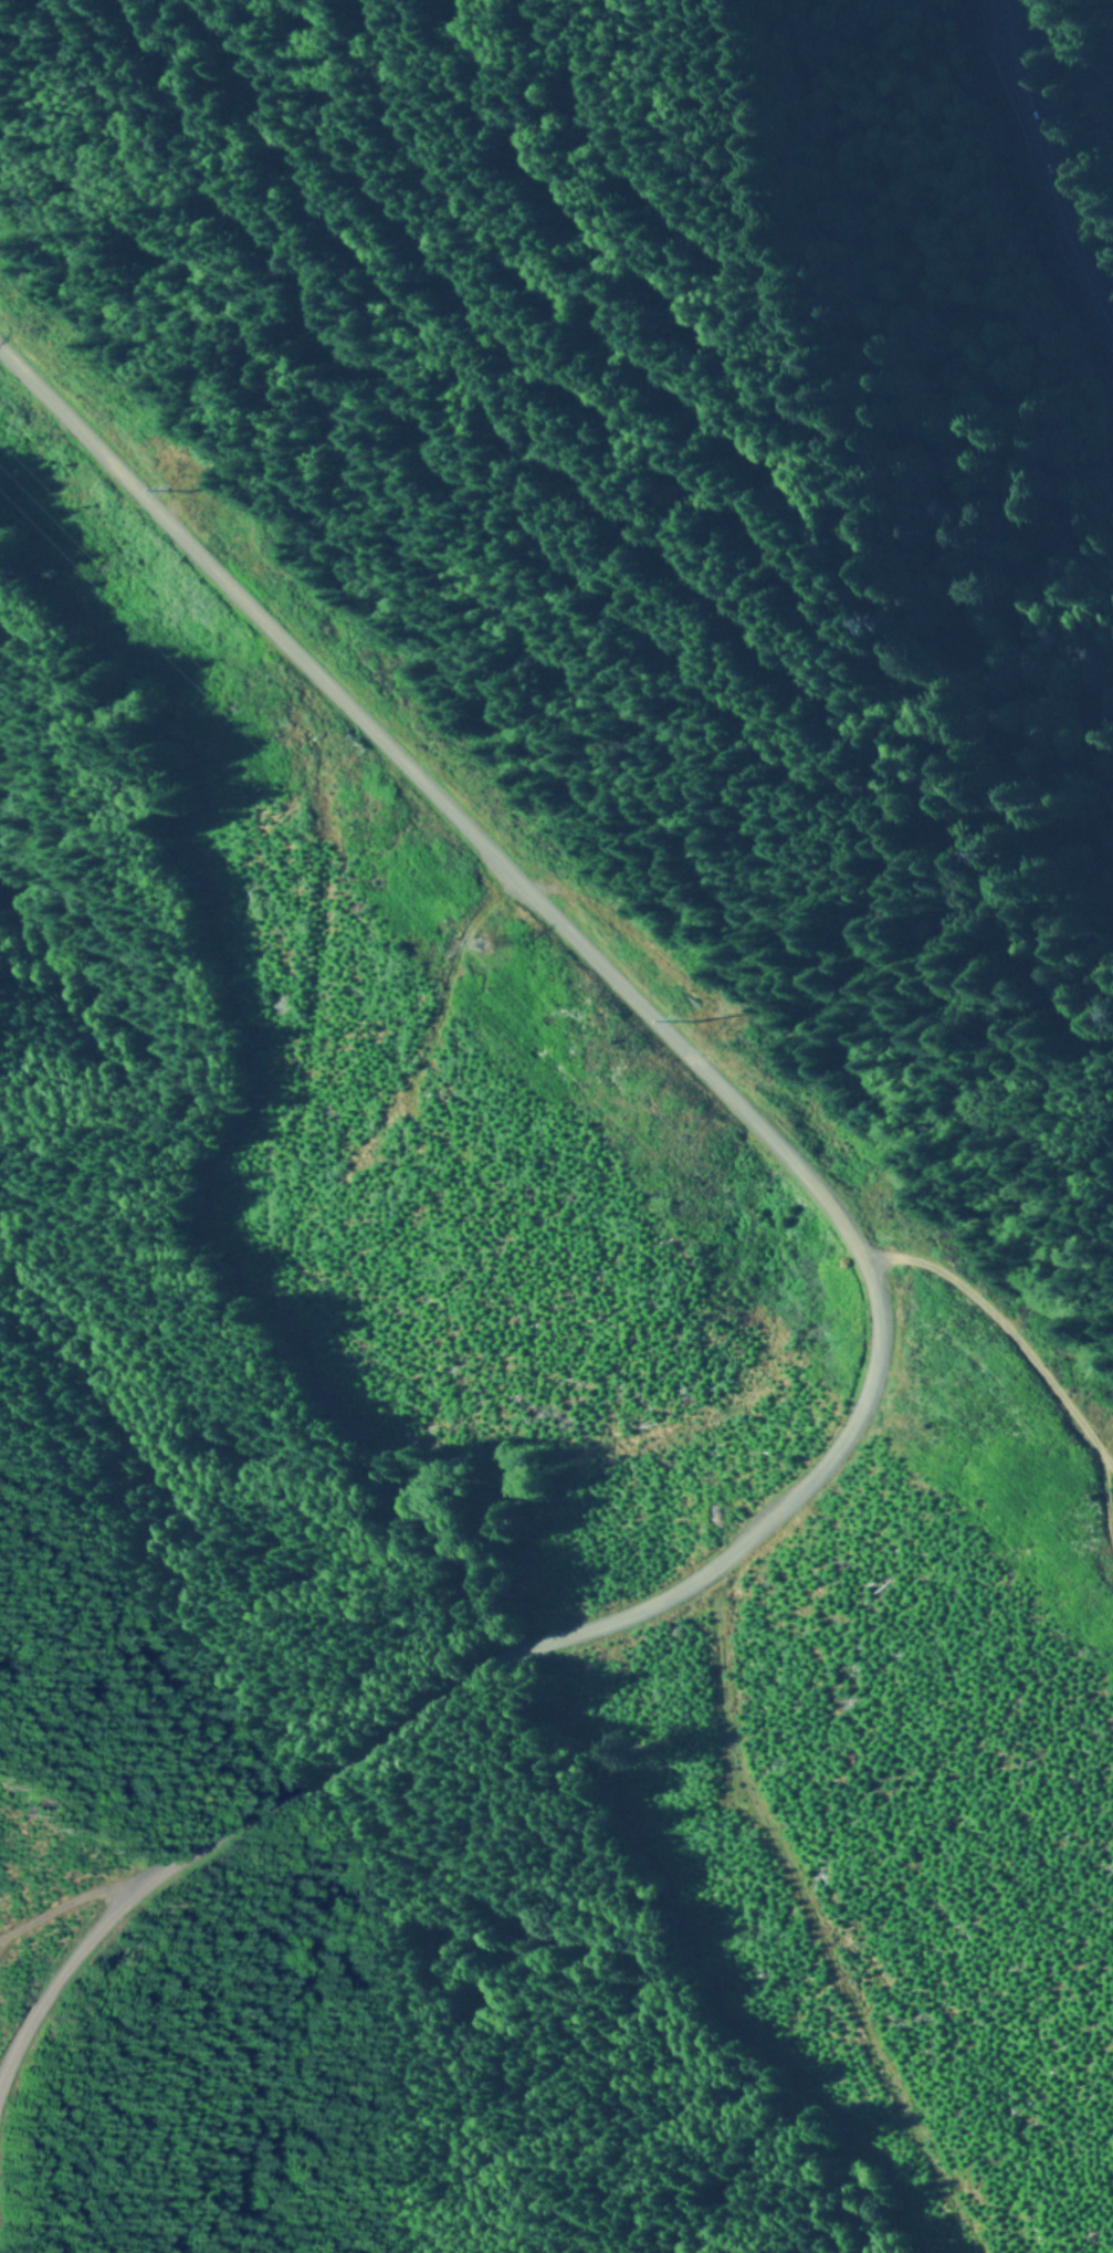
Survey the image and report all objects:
road: (1051, 176)
power tower: (212, 517)
power tower: (480, 943)
power tower: (636, 960)
road: (858, 1353)

